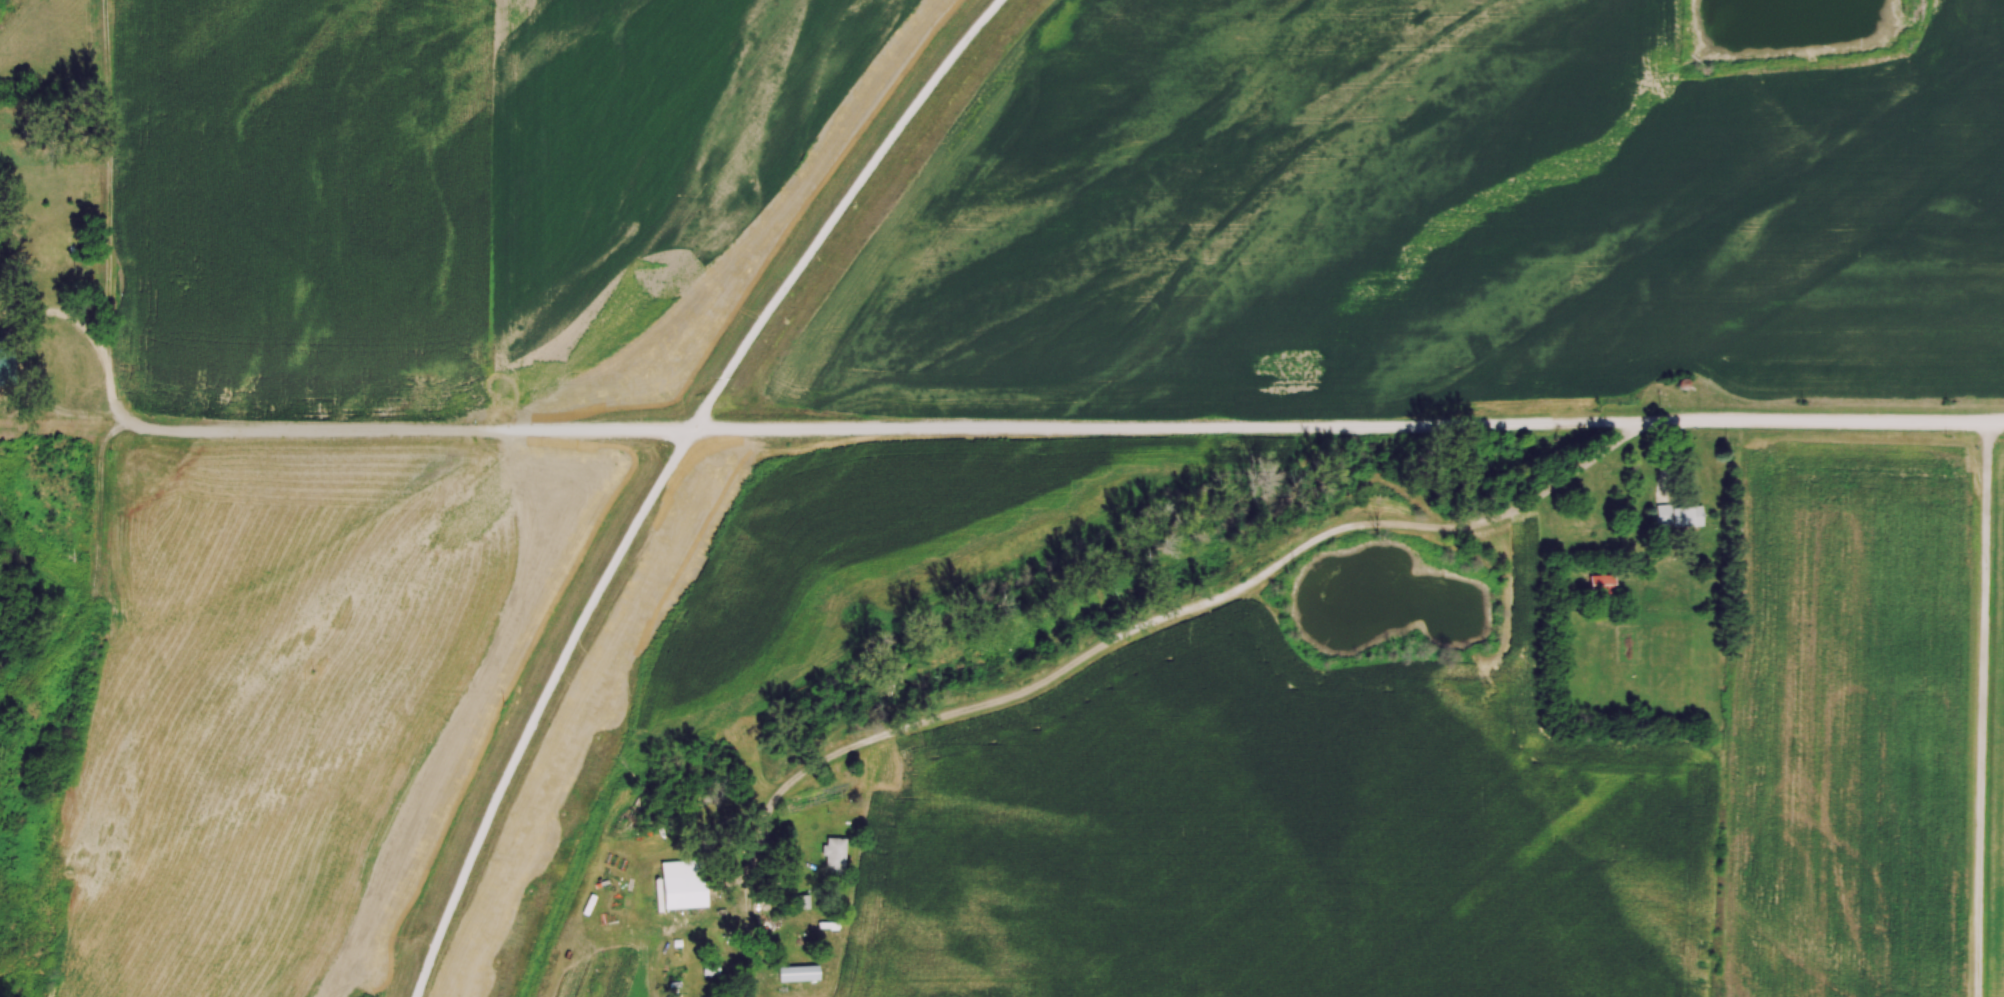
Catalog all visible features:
road: (823, 208)
road: (102, 344)
building: (6, 364)
road: (1071, 427)
road: (1150, 624)
road: (535, 708)
road: (1981, 709)

